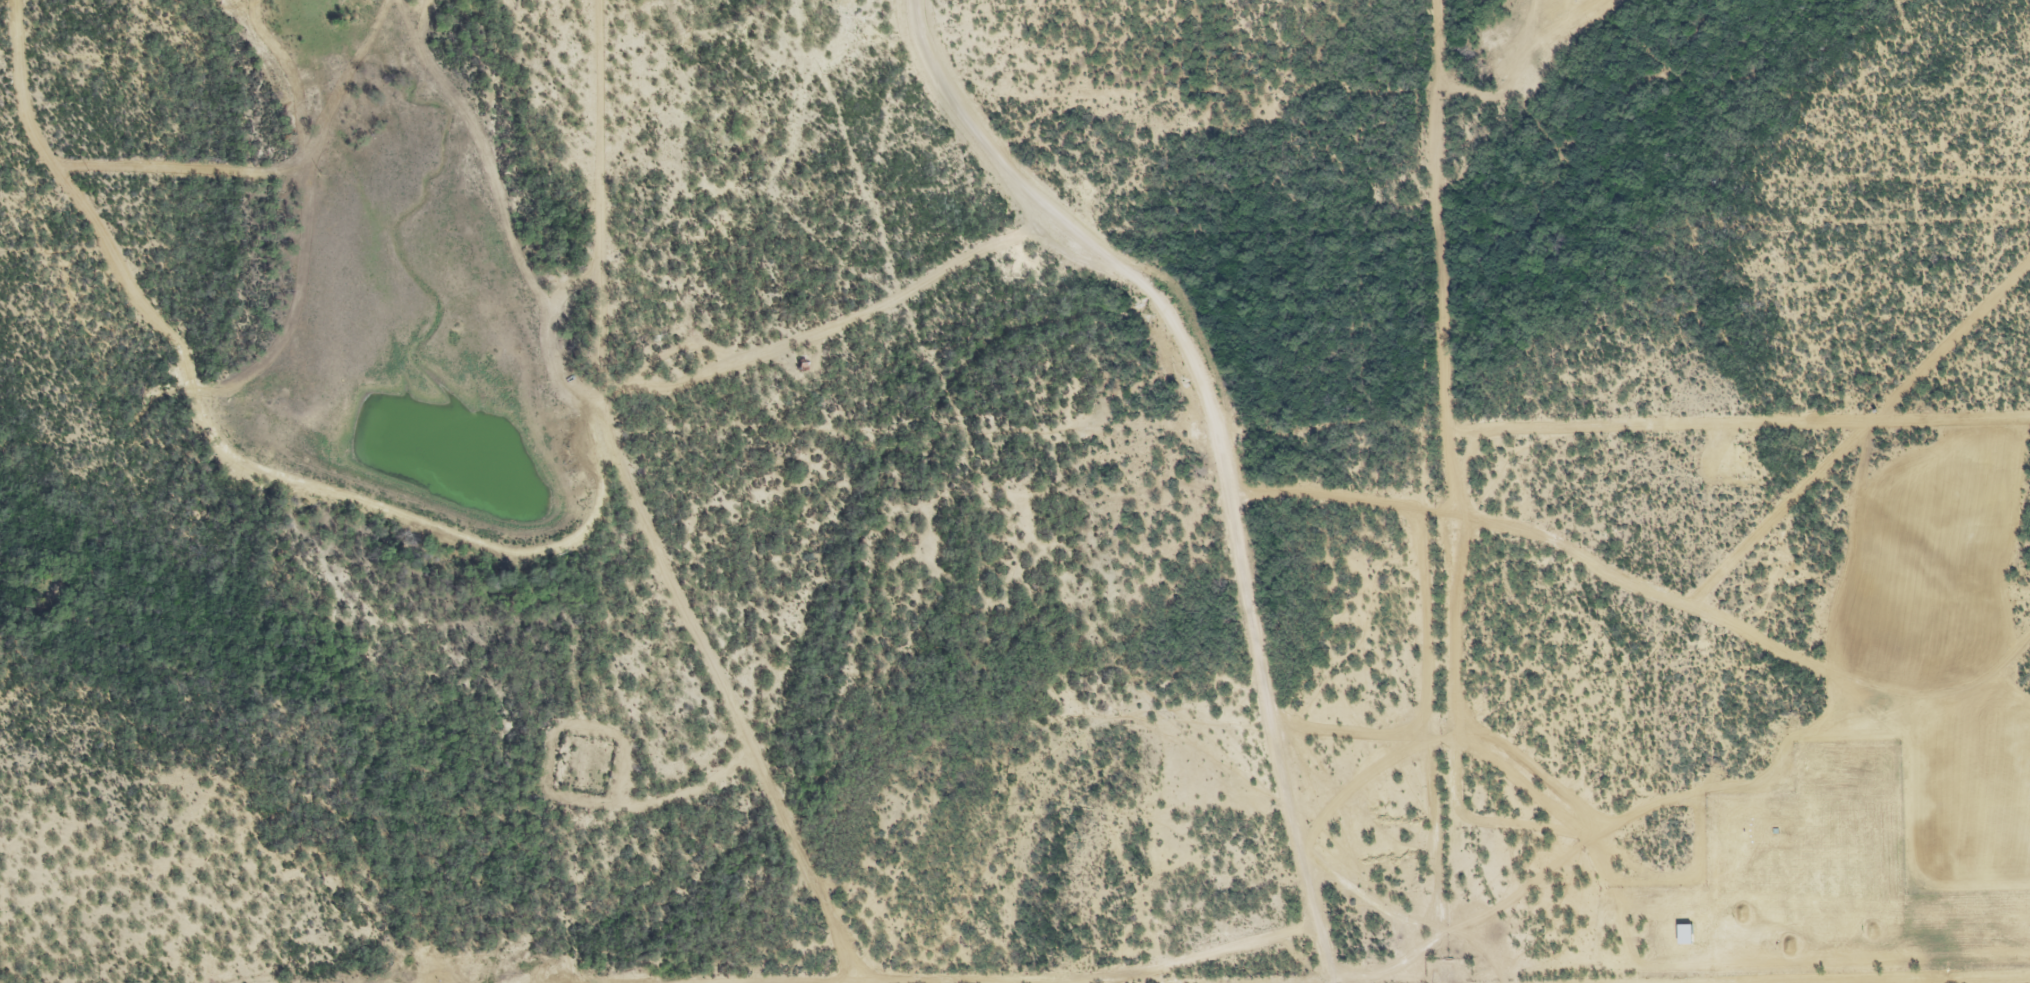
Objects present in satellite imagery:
road: (999, 102)
road: (1217, 347)

